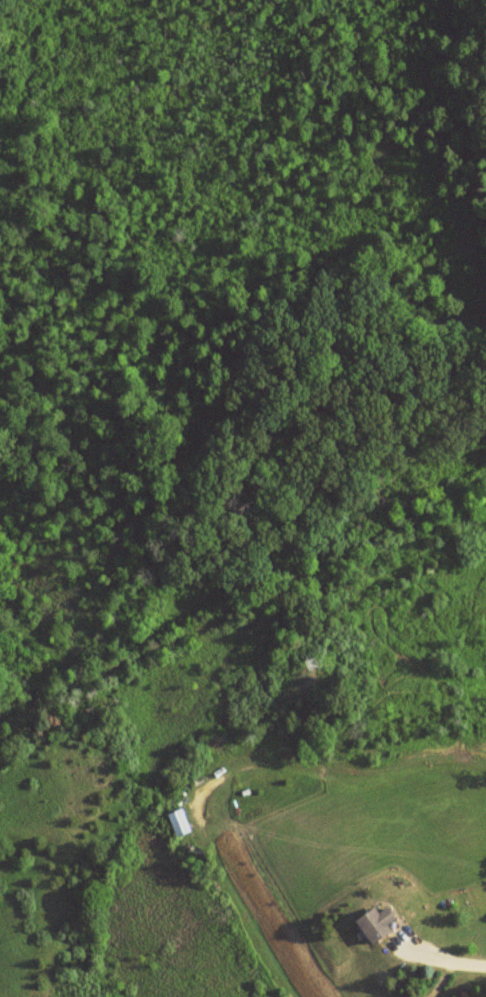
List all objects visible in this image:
building: (179, 823)
building: (379, 925)
road: (443, 957)

